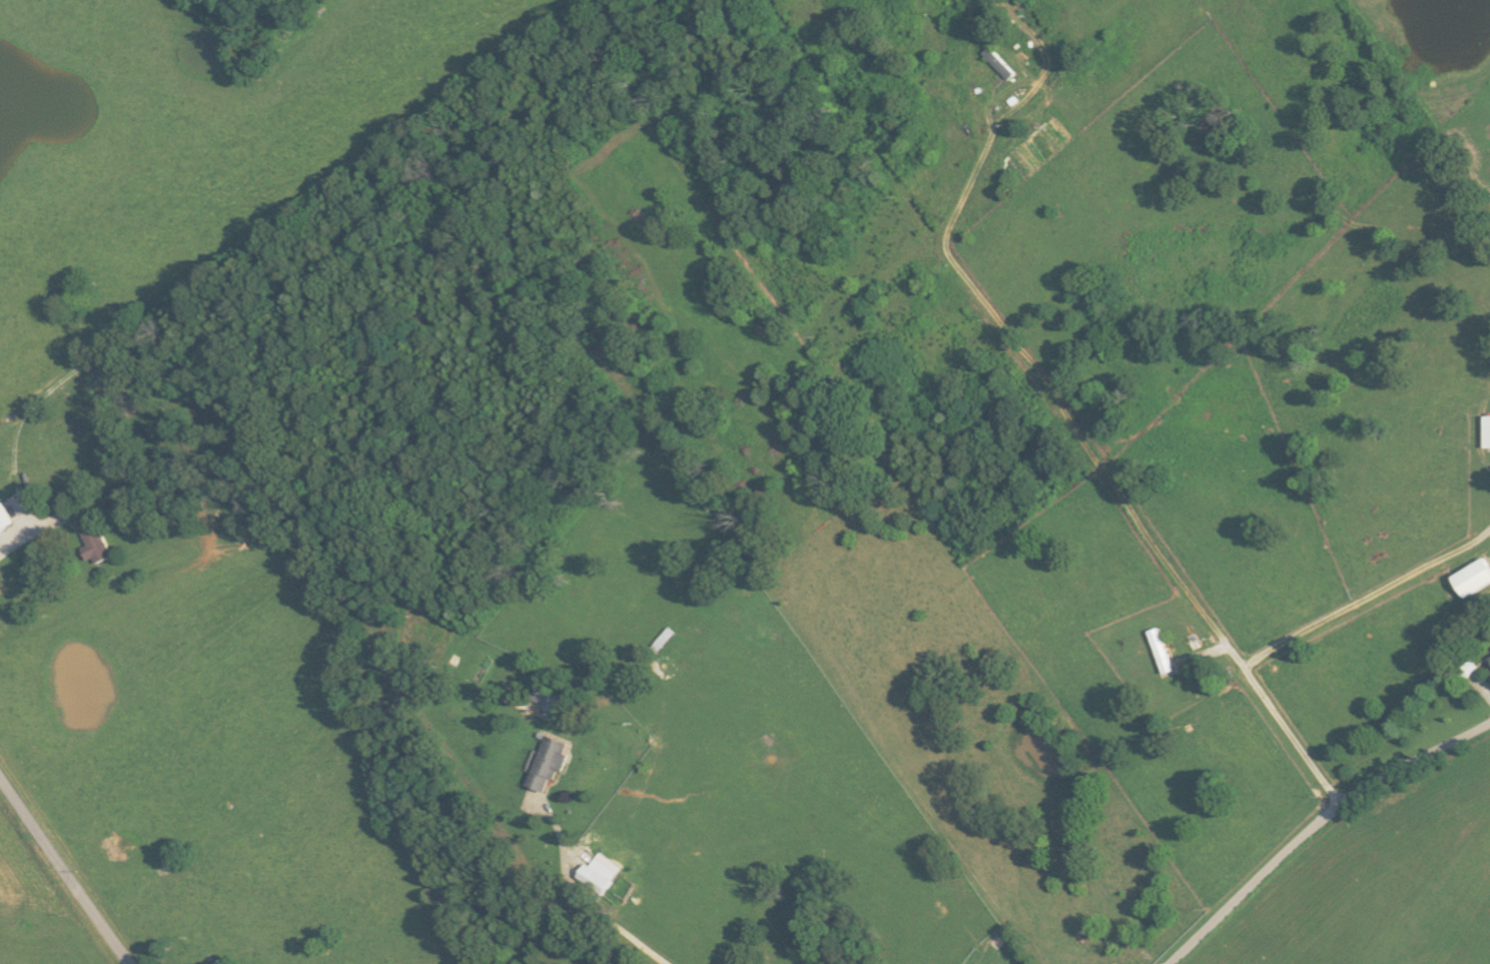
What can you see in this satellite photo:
building: (1488, 432)
road: (1103, 468)
building: (5, 518)
road: (22, 538)
building: (96, 545)
building: (1475, 579)
road: (1361, 601)
building: (551, 700)
building: (550, 764)
road: (1319, 827)
road: (64, 871)
building: (601, 873)
road: (582, 900)

